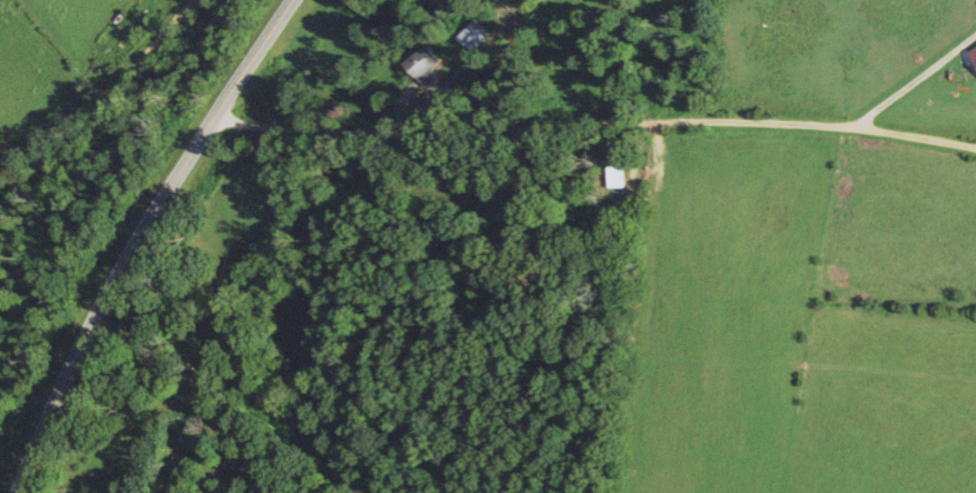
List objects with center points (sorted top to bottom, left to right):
building: (474, 37)
building: (426, 67)
road: (101, 98)
road: (593, 130)
road: (137, 238)

